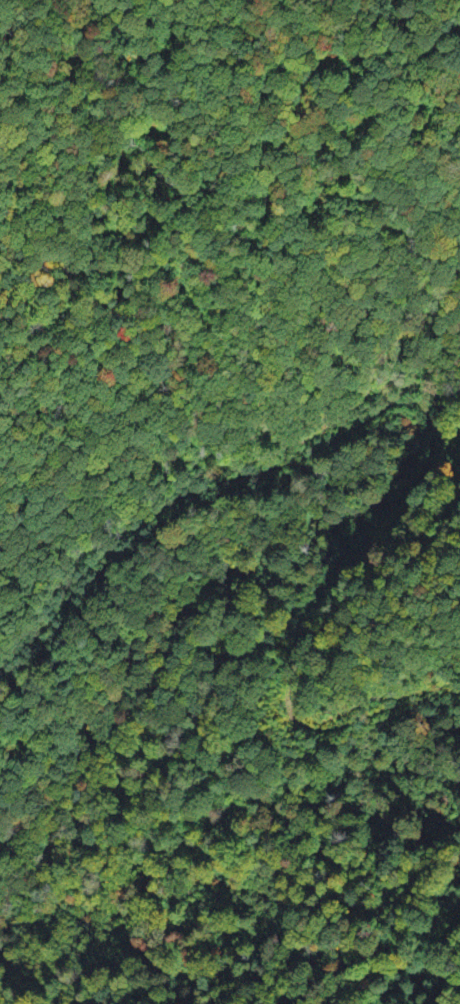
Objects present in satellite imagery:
road: (92, 243)
road: (211, 567)

